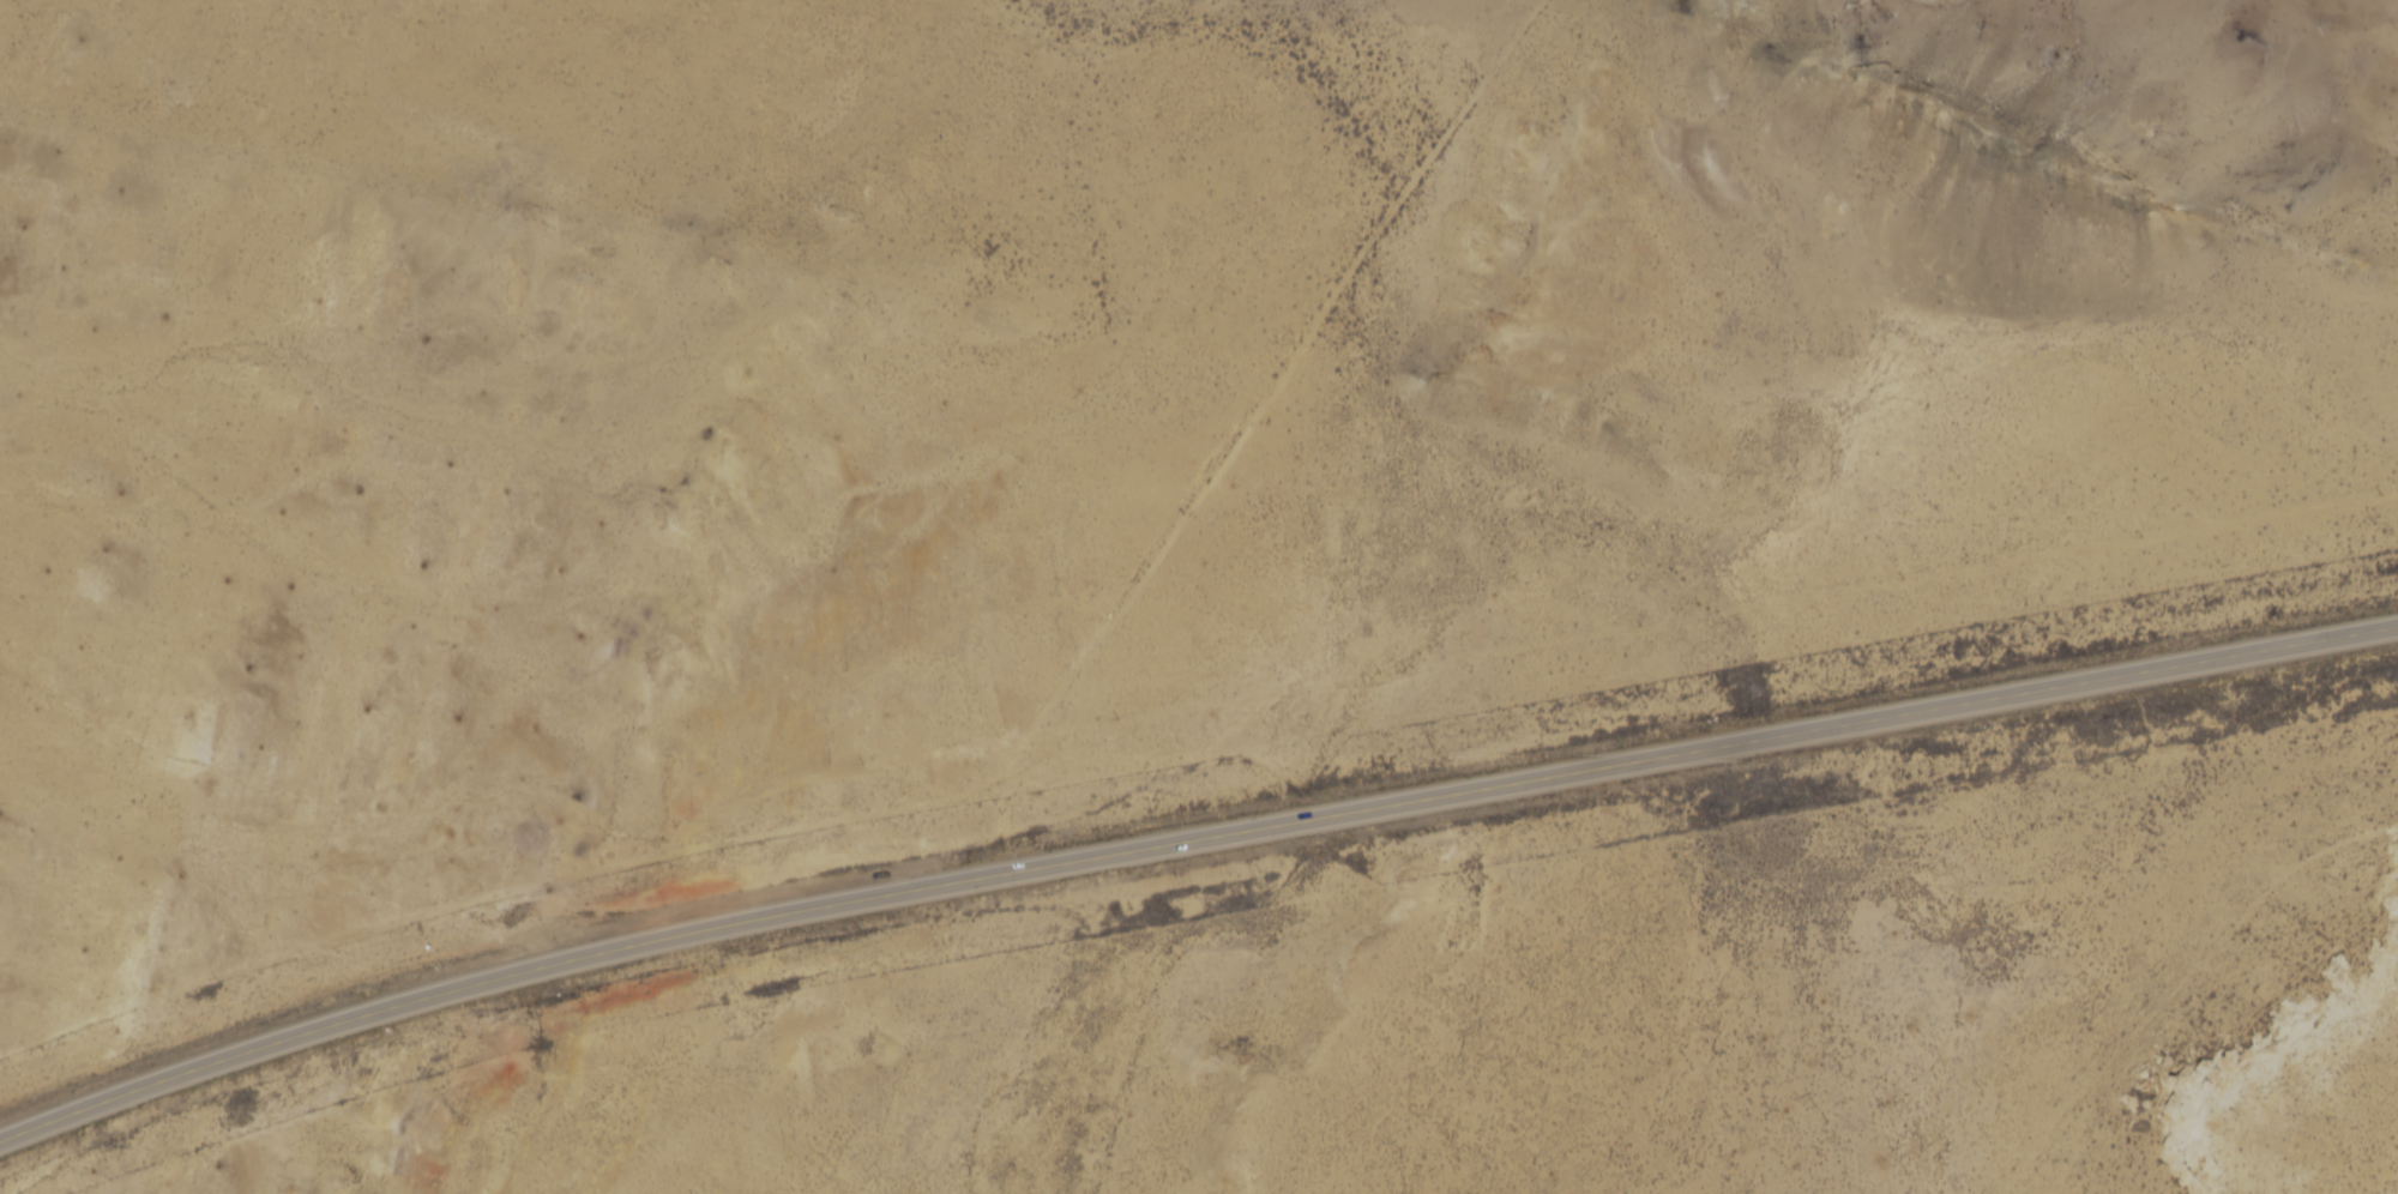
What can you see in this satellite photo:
road: (1217, 421)
road: (1187, 838)

